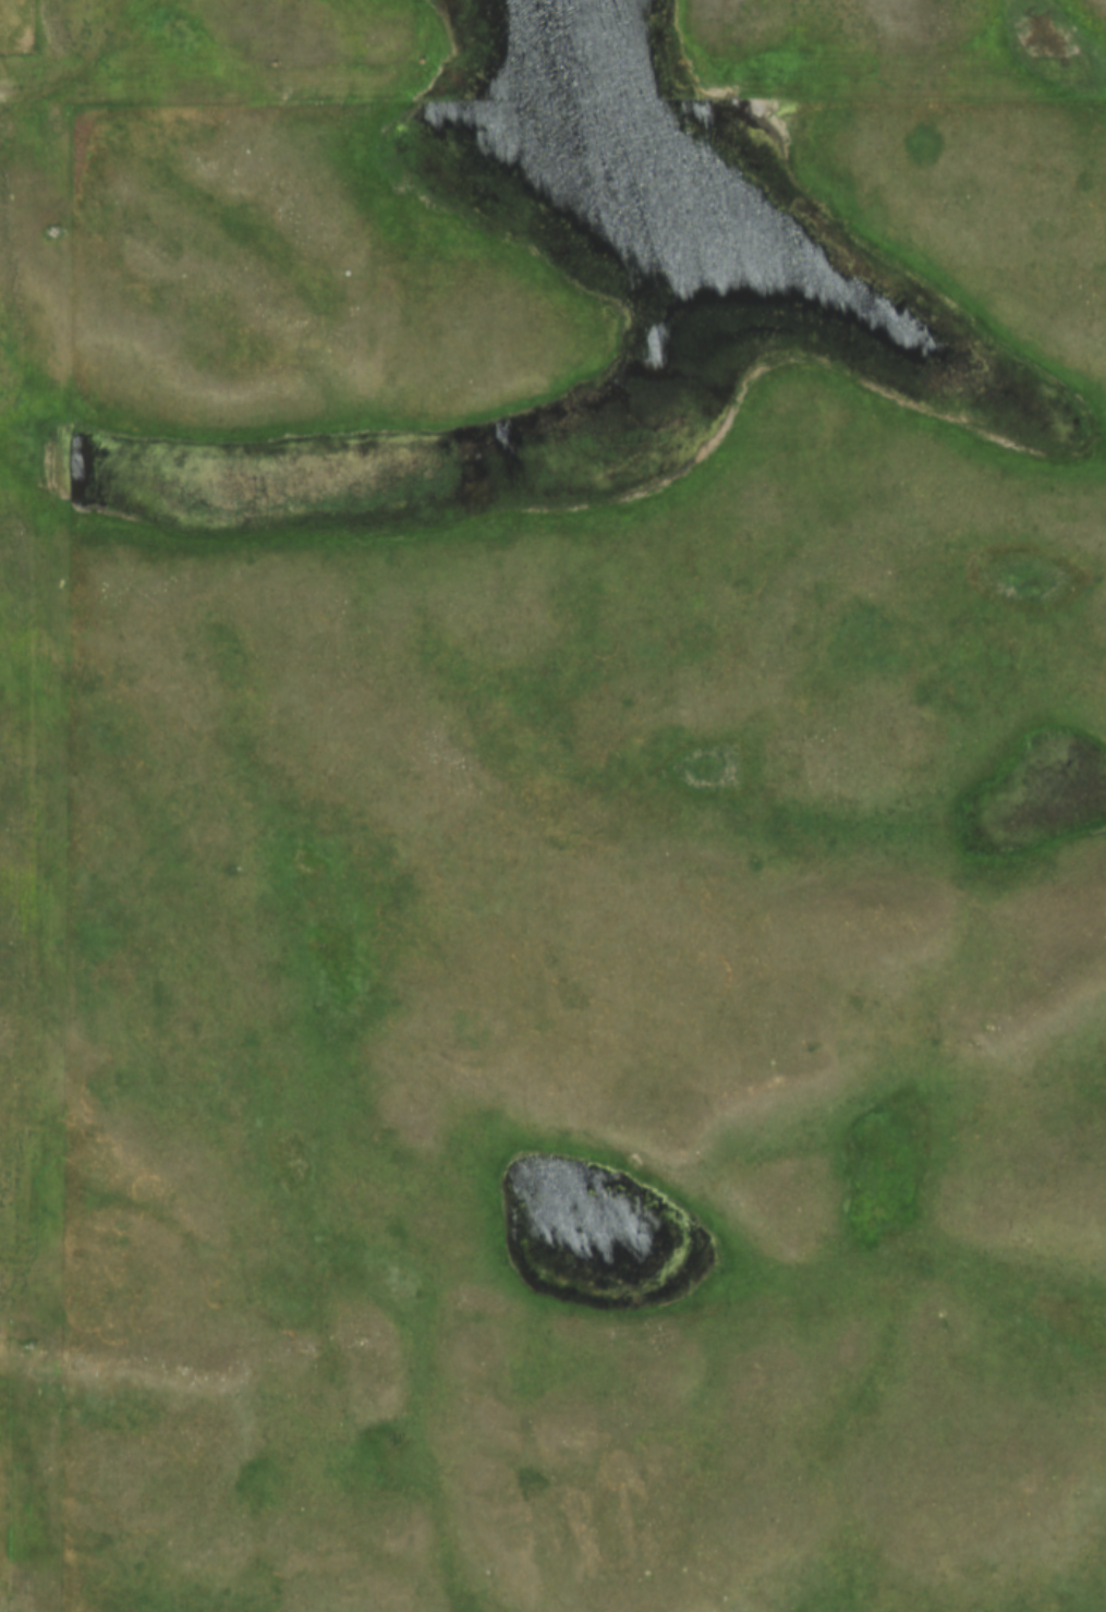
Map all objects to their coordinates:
road: (23, 97)

